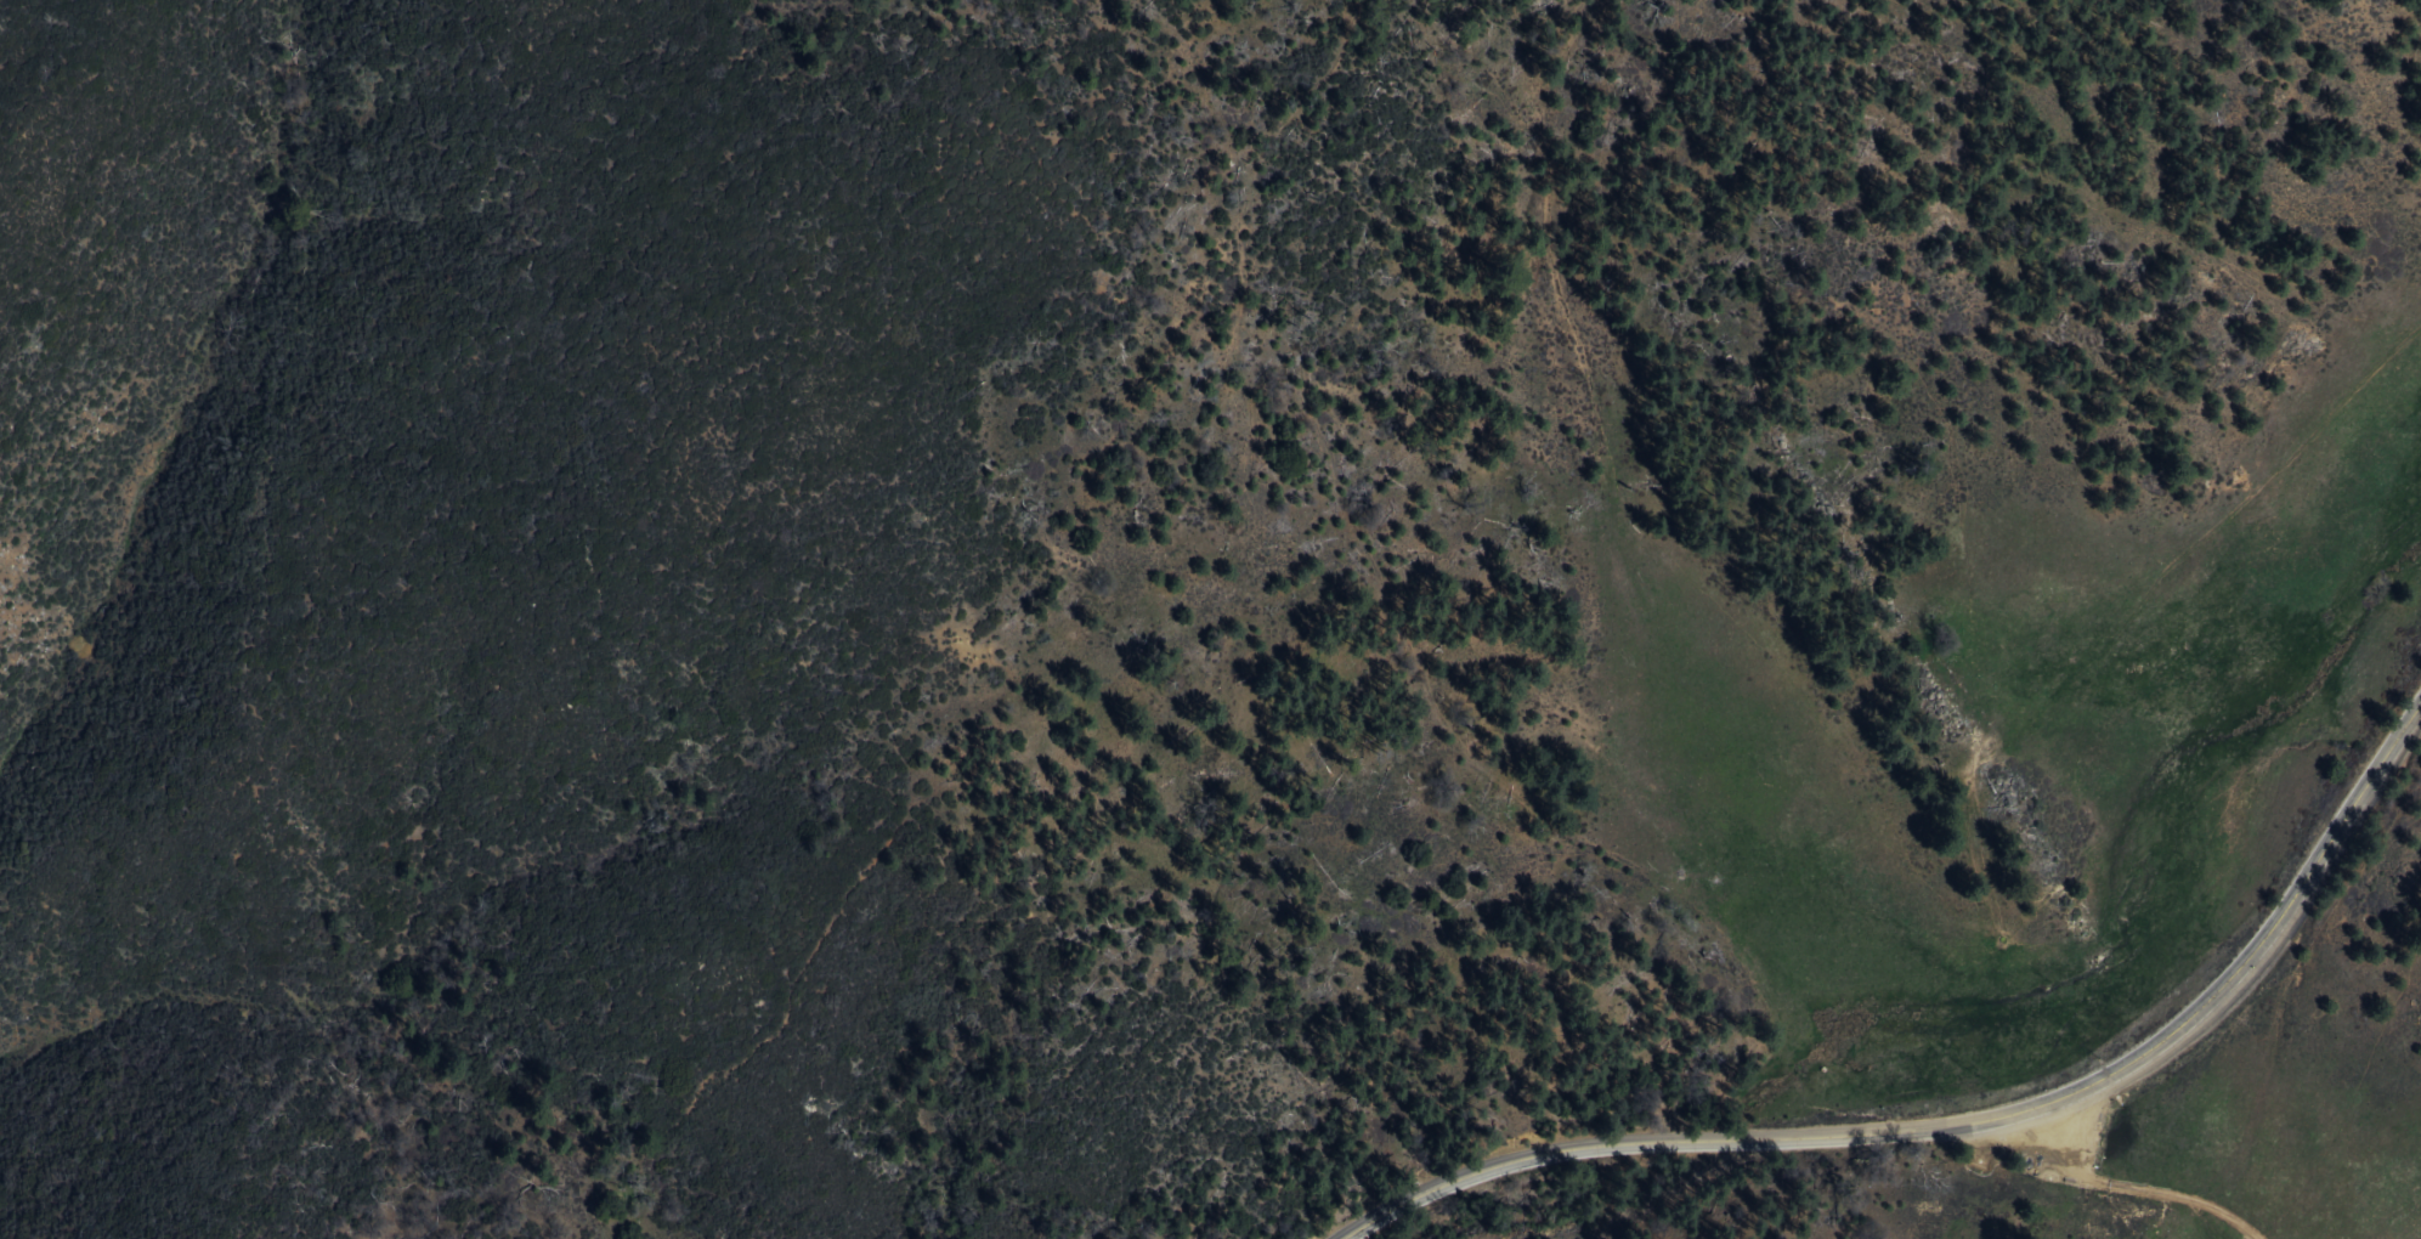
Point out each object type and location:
road: (1968, 1125)
road: (2122, 1186)
road: (1639, 1201)

